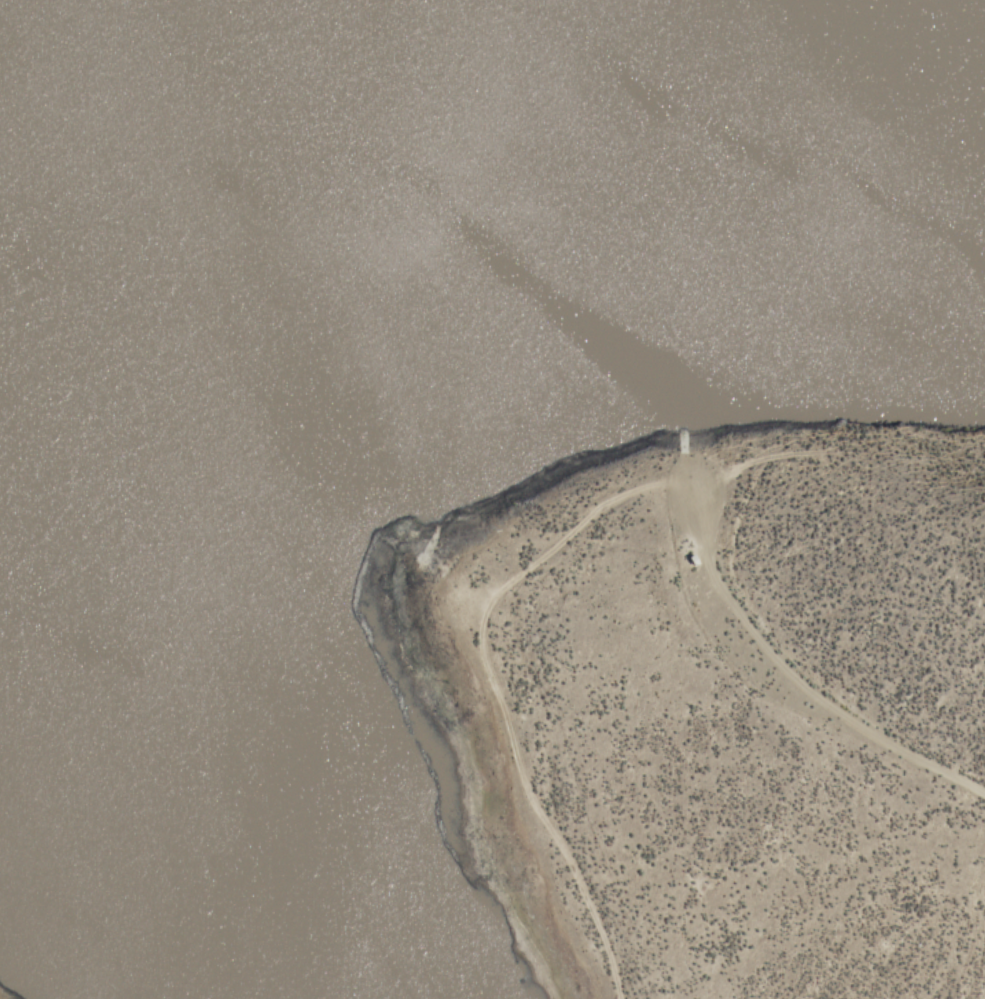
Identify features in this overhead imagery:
road: (678, 436)
road: (747, 458)
road: (680, 472)
road: (582, 515)
building: (692, 555)

